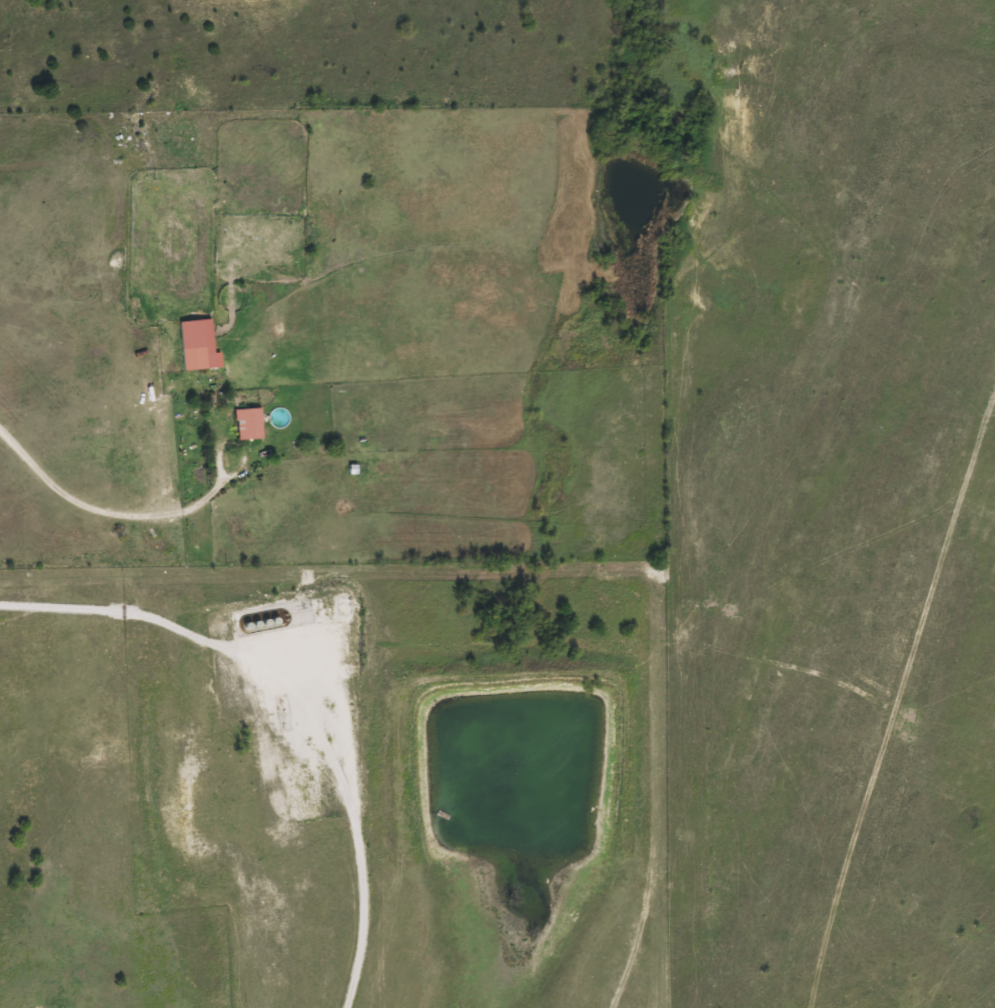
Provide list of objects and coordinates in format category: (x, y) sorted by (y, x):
building: (194, 345)
building: (246, 425)
road: (108, 512)
road: (267, 722)

